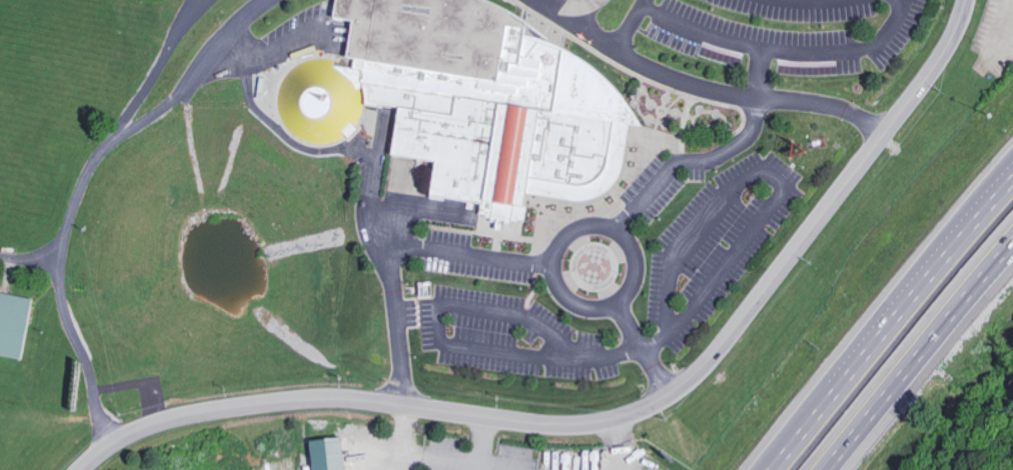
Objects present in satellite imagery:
road: (643, 3)
road: (569, 9)
road: (628, 28)
parking lot: (786, 32)
road: (783, 52)
road: (152, 76)
road: (703, 88)
building: (463, 106)
road: (713, 158)
road: (369, 172)
building: (654, 181)
road: (997, 183)
road: (79, 186)
road: (572, 232)
road: (470, 255)
parking lot: (702, 262)
road: (29, 263)
road: (885, 318)
building: (11, 323)
road: (661, 338)
road: (642, 350)
road: (925, 364)
road: (23, 378)
building: (68, 381)
road: (46, 386)
road: (10, 415)
road: (616, 418)
road: (59, 421)
road: (402, 437)
road: (483, 440)
road: (15, 443)
road: (54, 445)
building: (321, 454)
road: (443, 459)
road: (5, 464)

